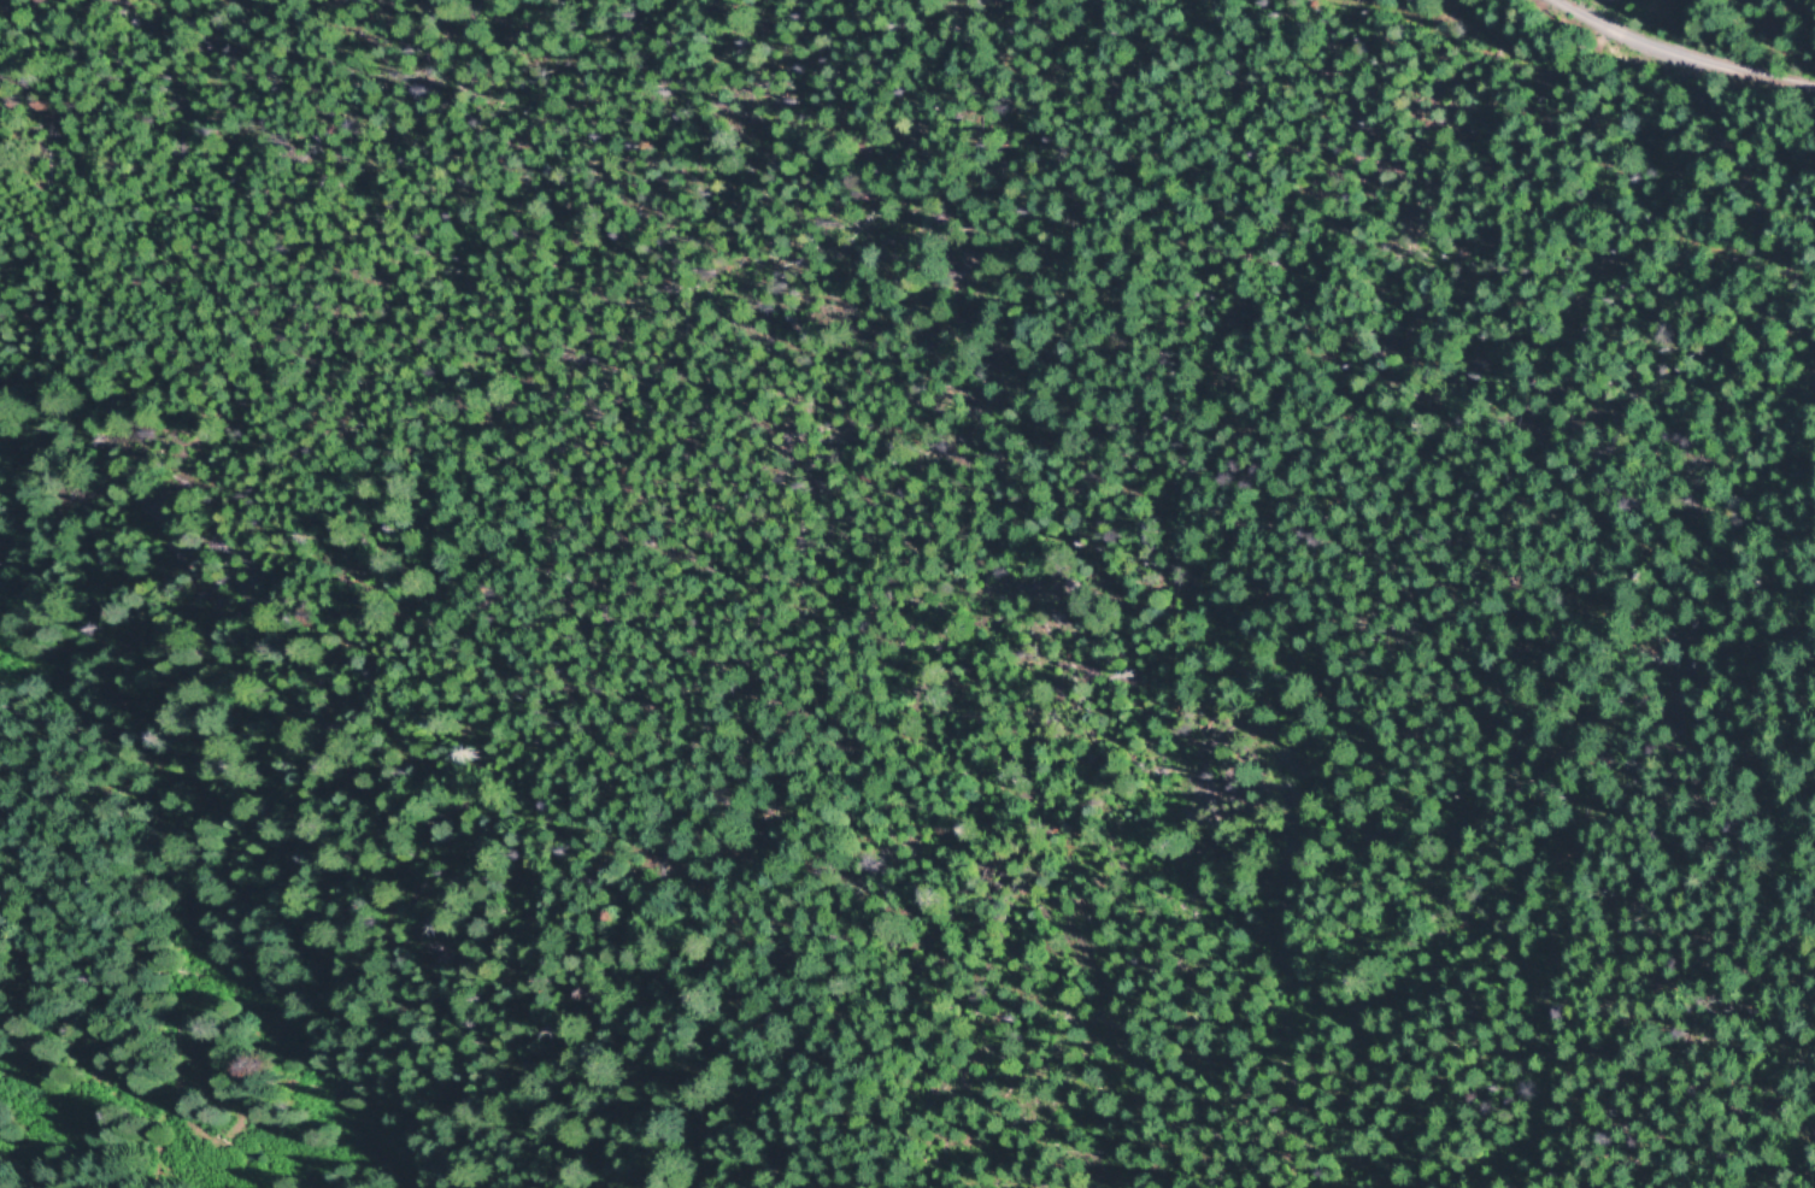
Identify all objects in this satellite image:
road: (1719, 45)

